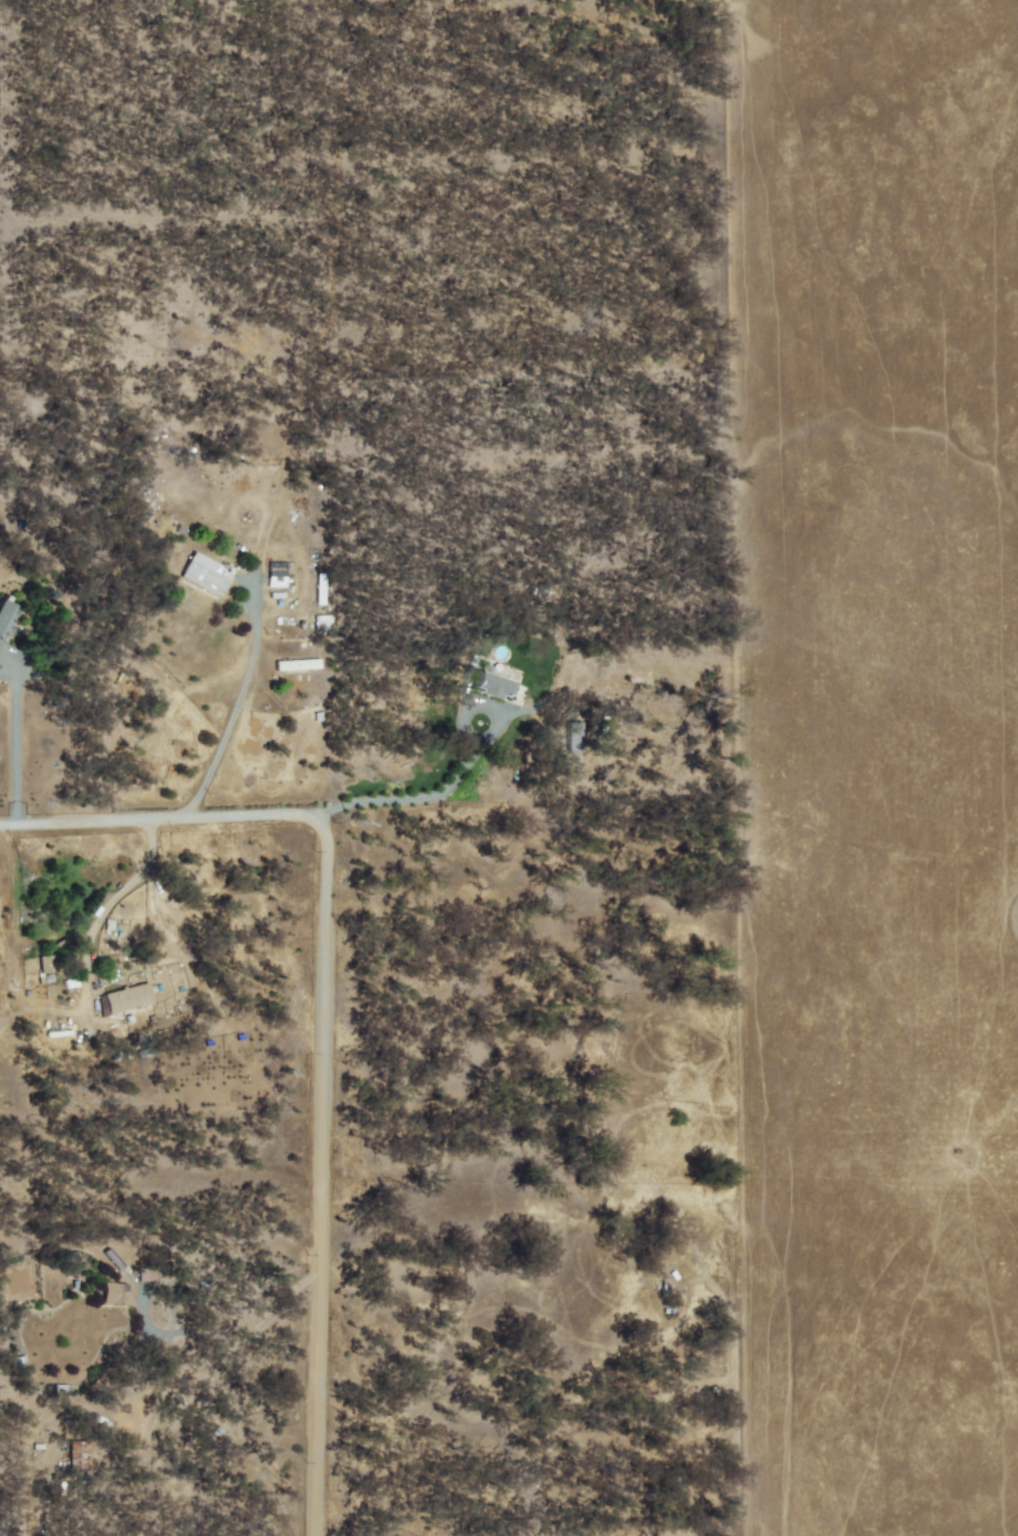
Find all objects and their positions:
building: (206, 573)
building: (279, 573)
building: (5, 617)
building: (492, 685)
road: (233, 708)
building: (572, 736)
road: (13, 738)
road: (416, 791)
road: (120, 888)
building: (45, 964)
building: (123, 999)
road: (327, 1007)
building: (112, 1258)
building: (143, 1274)
building: (115, 1293)
road: (737, 1449)
building: (78, 1455)

